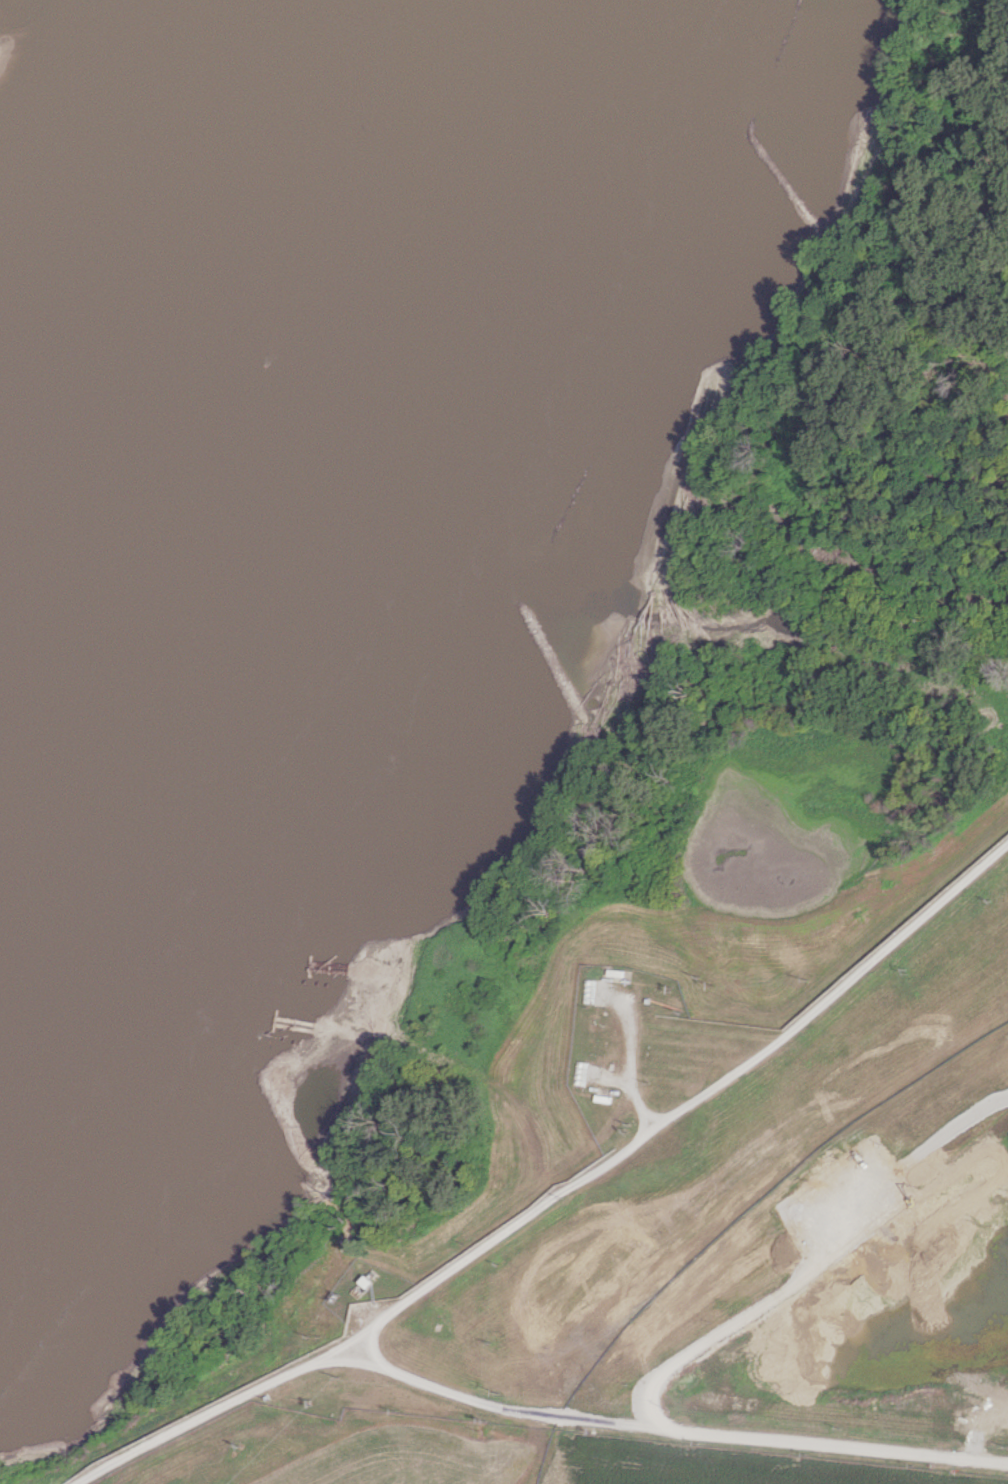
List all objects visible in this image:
river: (235, 428)
road: (525, 1412)
crop: (410, 1457)
crop: (716, 1467)

